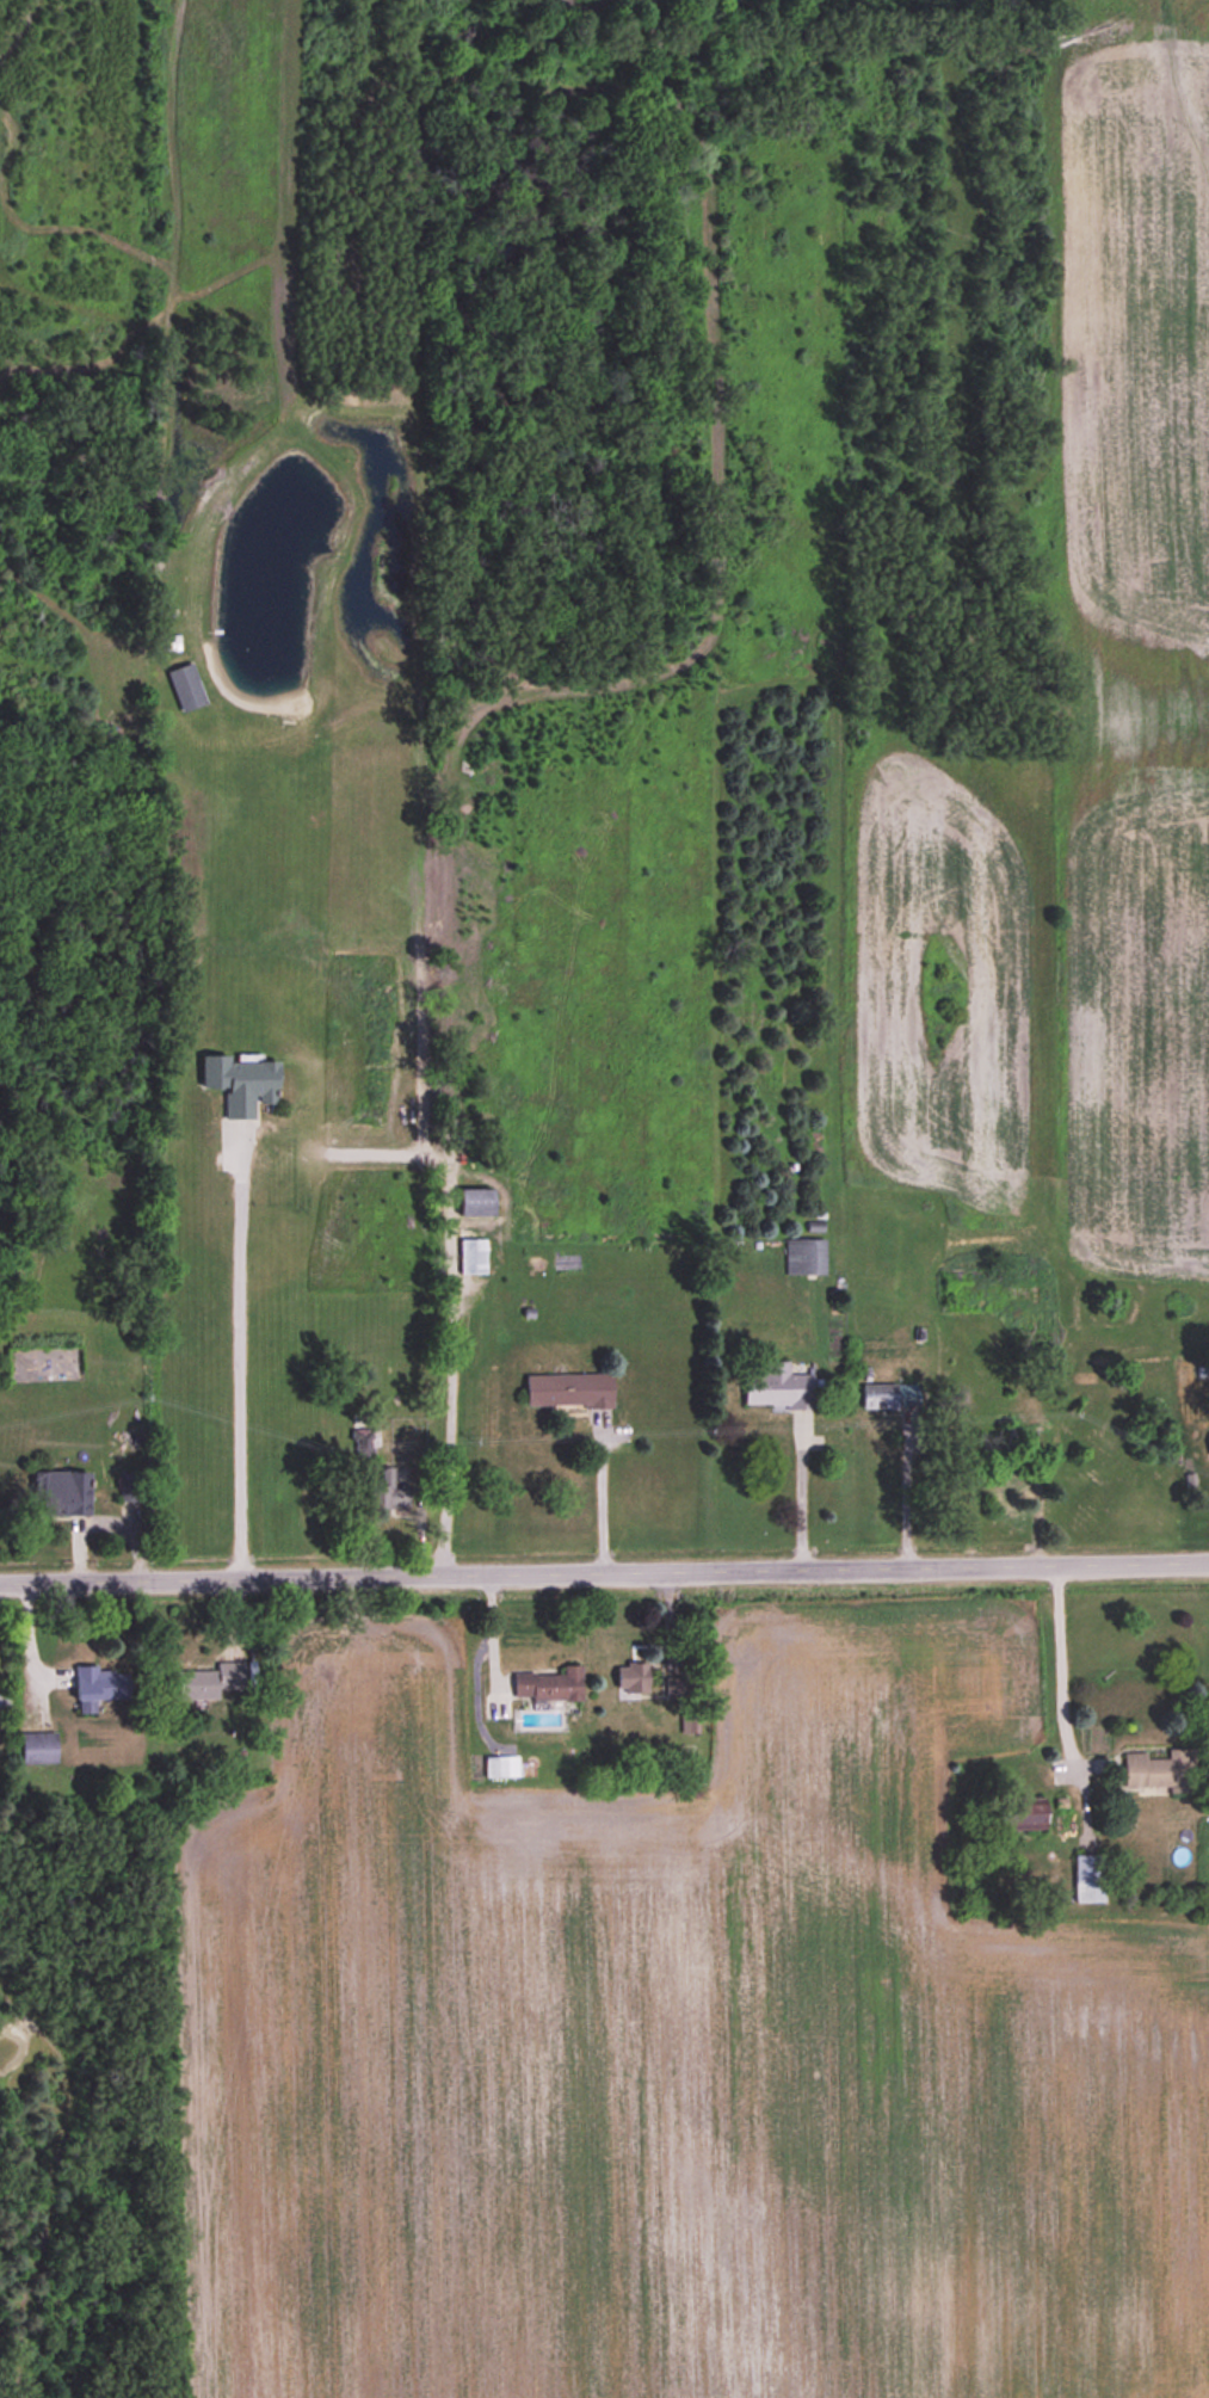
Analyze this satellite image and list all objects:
building: (186, 688)
building: (240, 1085)
building: (475, 1203)
building: (473, 1257)
building: (804, 1258)
building: (968, 1290)
building: (45, 1364)
road: (233, 1374)
building: (779, 1389)
building: (568, 1391)
building: (889, 1398)
building: (364, 1437)
building: (129, 1488)
building: (387, 1491)
building: (64, 1494)
road: (600, 1494)
road: (798, 1494)
road: (604, 1570)
building: (631, 1678)
building: (208, 1683)
building: (549, 1685)
building: (99, 1688)
building: (677, 1690)
road: (1063, 1694)
building: (689, 1726)
building: (38, 1749)
building: (500, 1768)
building: (1160, 1771)
building: (1019, 1818)
building: (1088, 1879)

